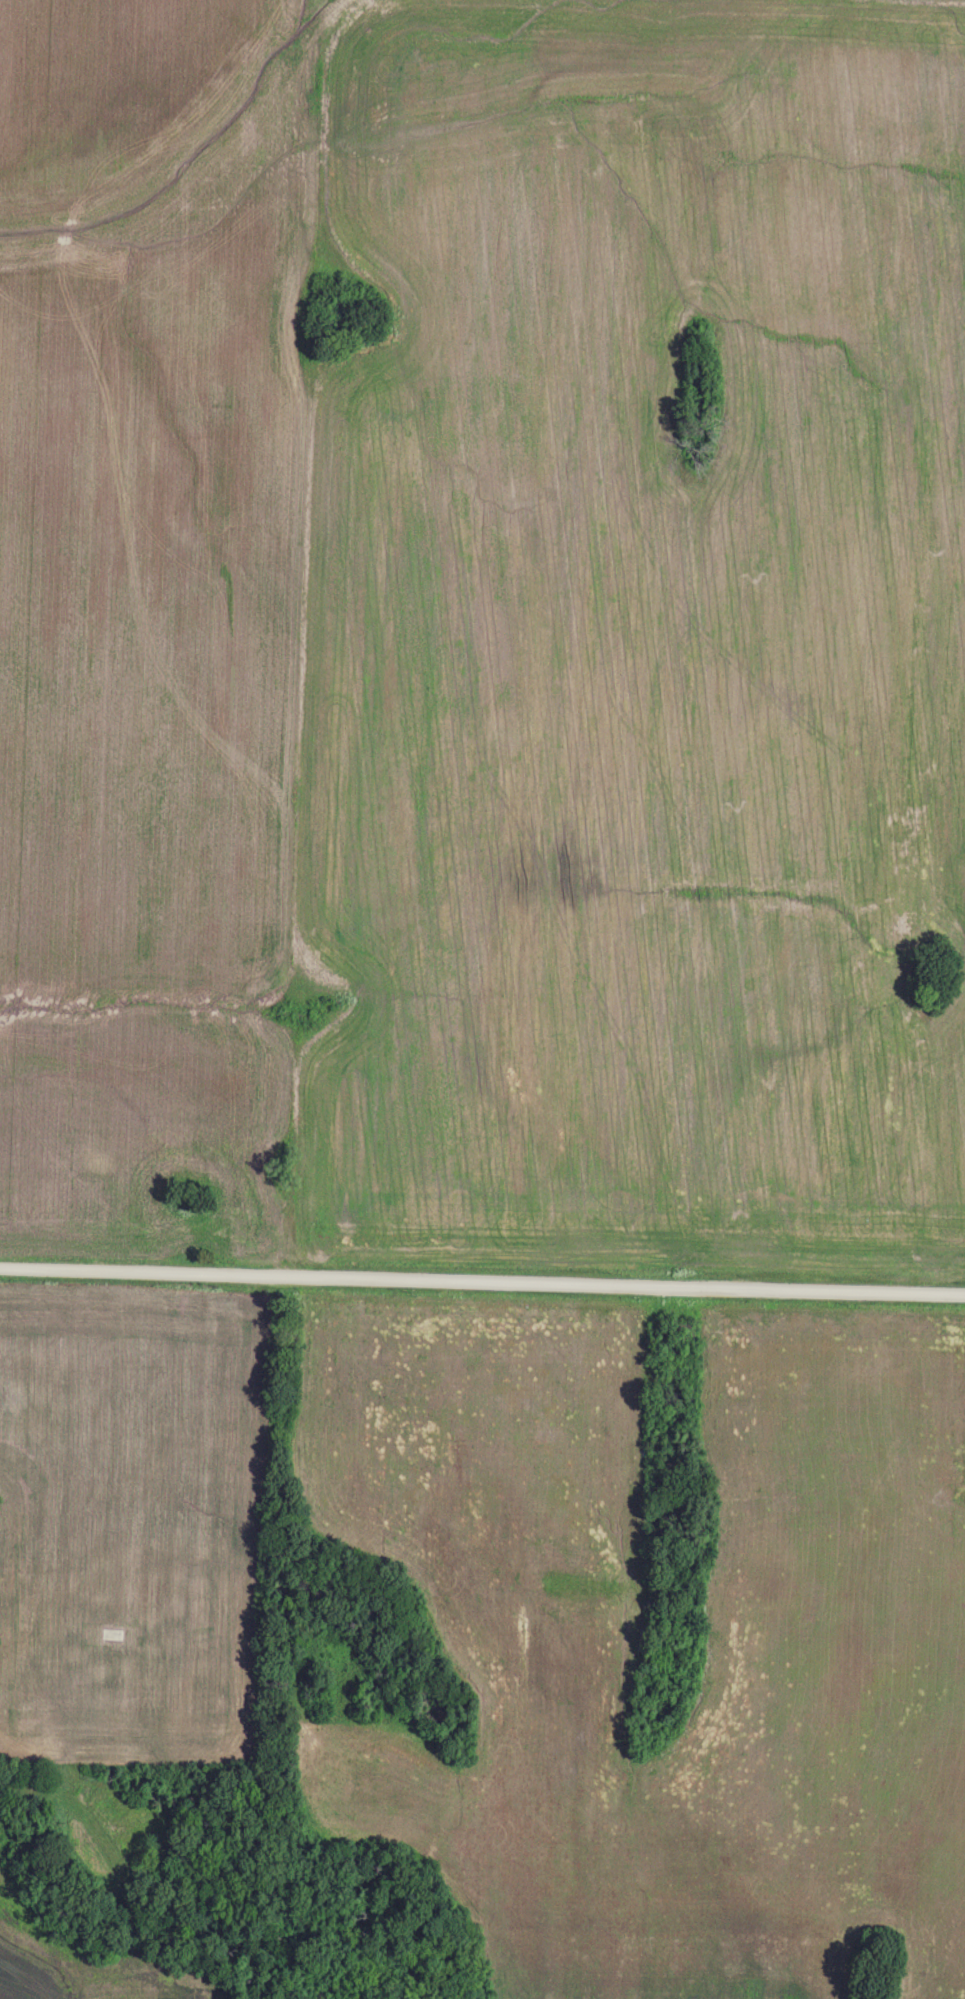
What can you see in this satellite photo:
road: (482, 1287)

